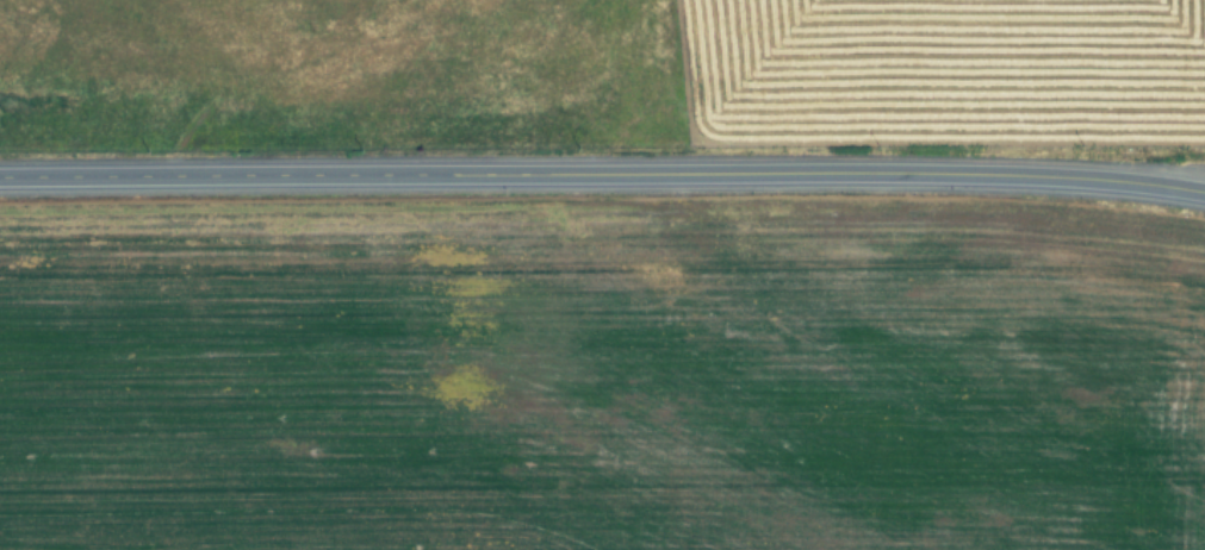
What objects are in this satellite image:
road: (602, 171)
crop: (601, 373)

